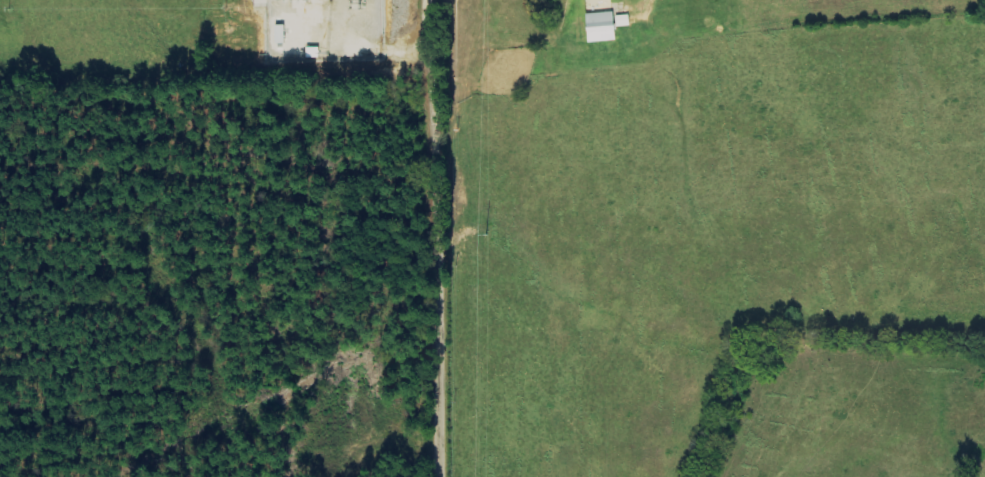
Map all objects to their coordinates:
building: (620, 21)
building: (597, 27)
building: (293, 44)
road: (434, 238)

